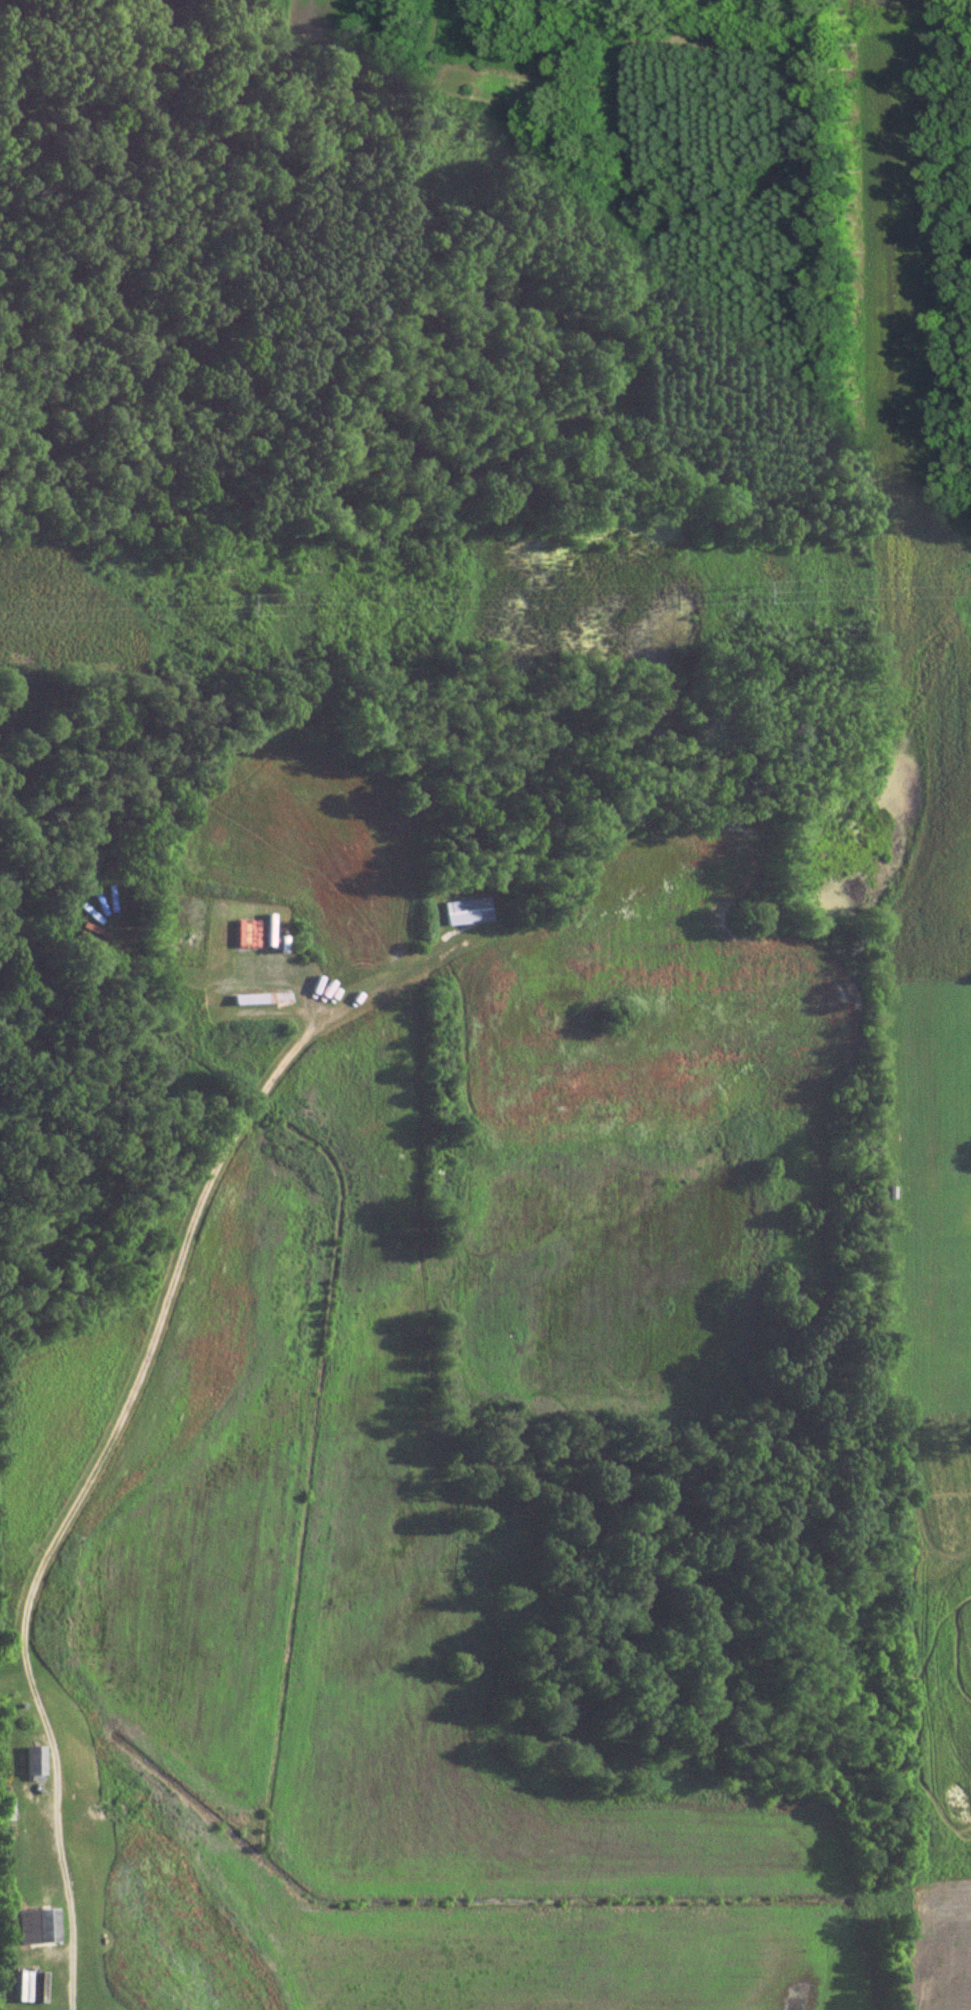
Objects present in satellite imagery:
power tower: (749, 594)
power tower: (237, 606)
building: (468, 909)
building: (248, 932)
building: (34, 1758)
building: (39, 1924)
building: (25, 1984)

